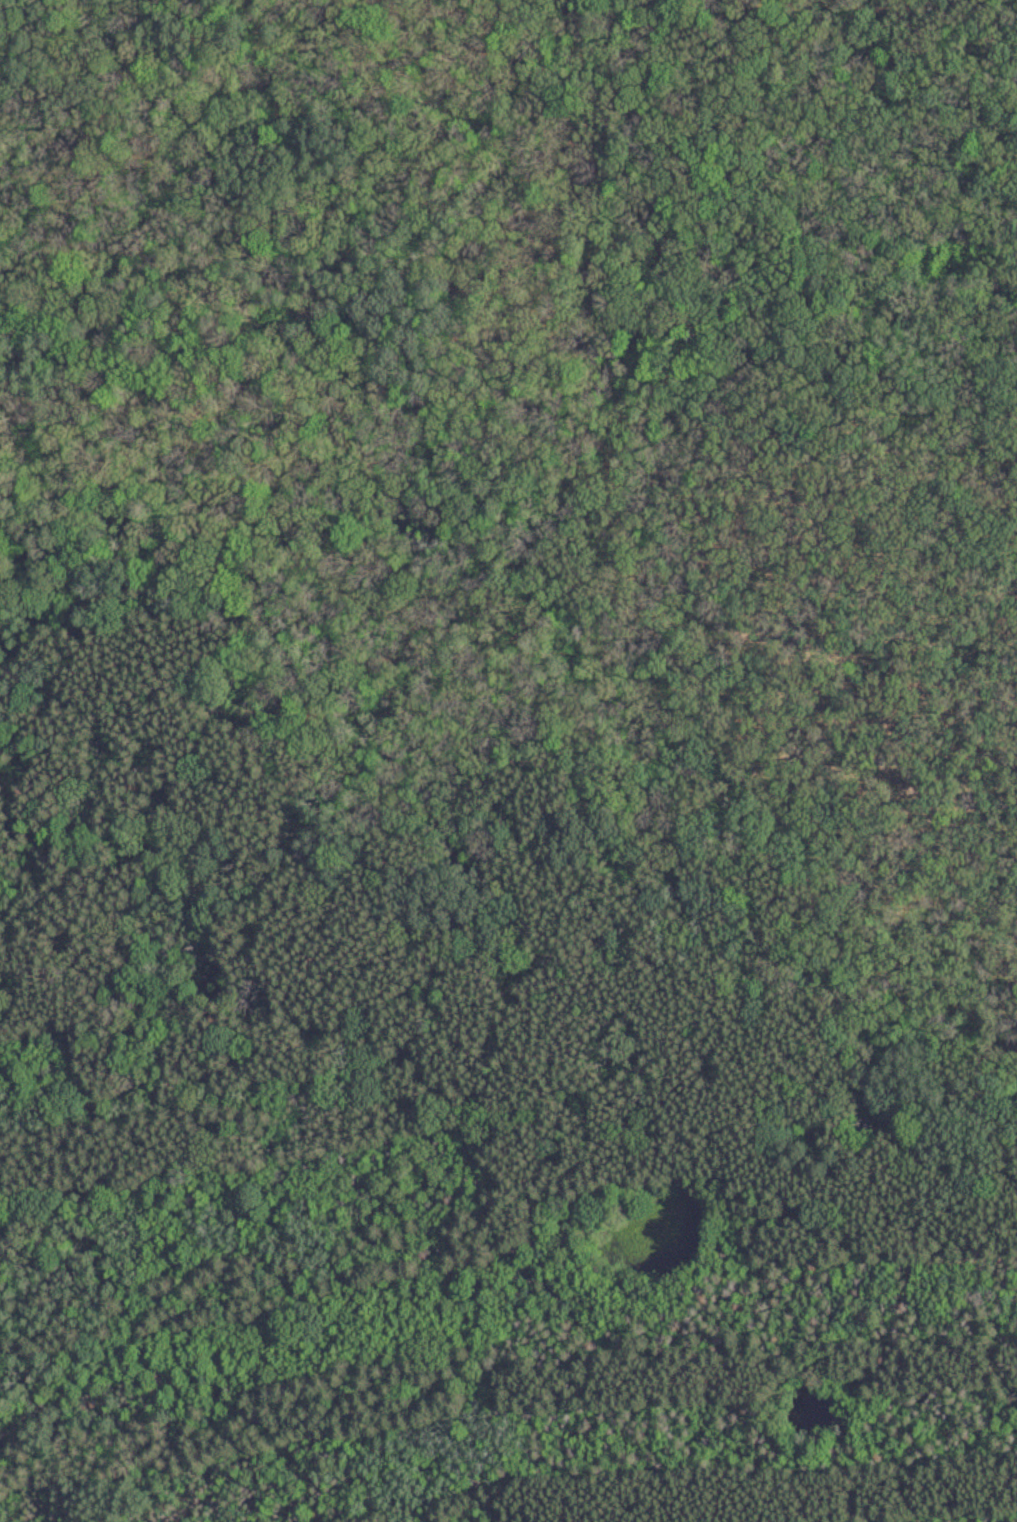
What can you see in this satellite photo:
road: (470, 167)
road: (171, 1310)

